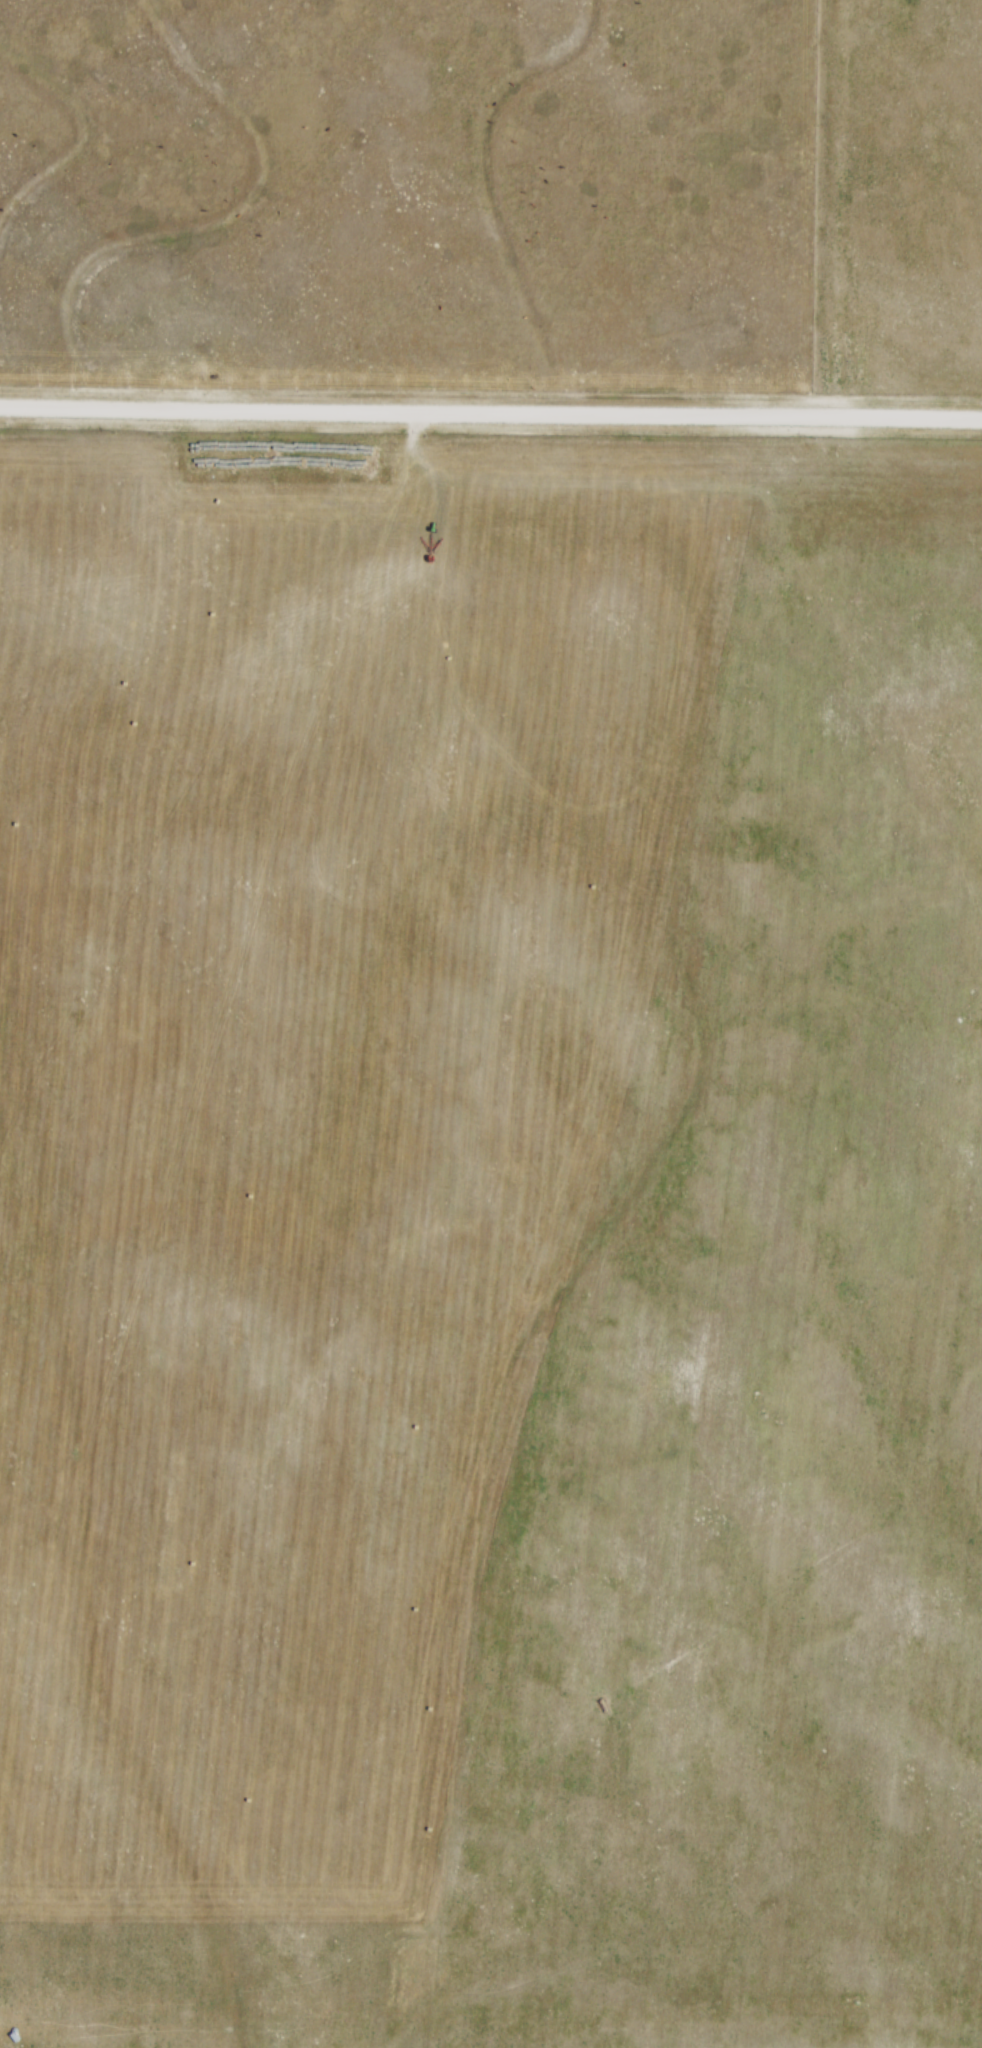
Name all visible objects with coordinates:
road: (490, 412)

